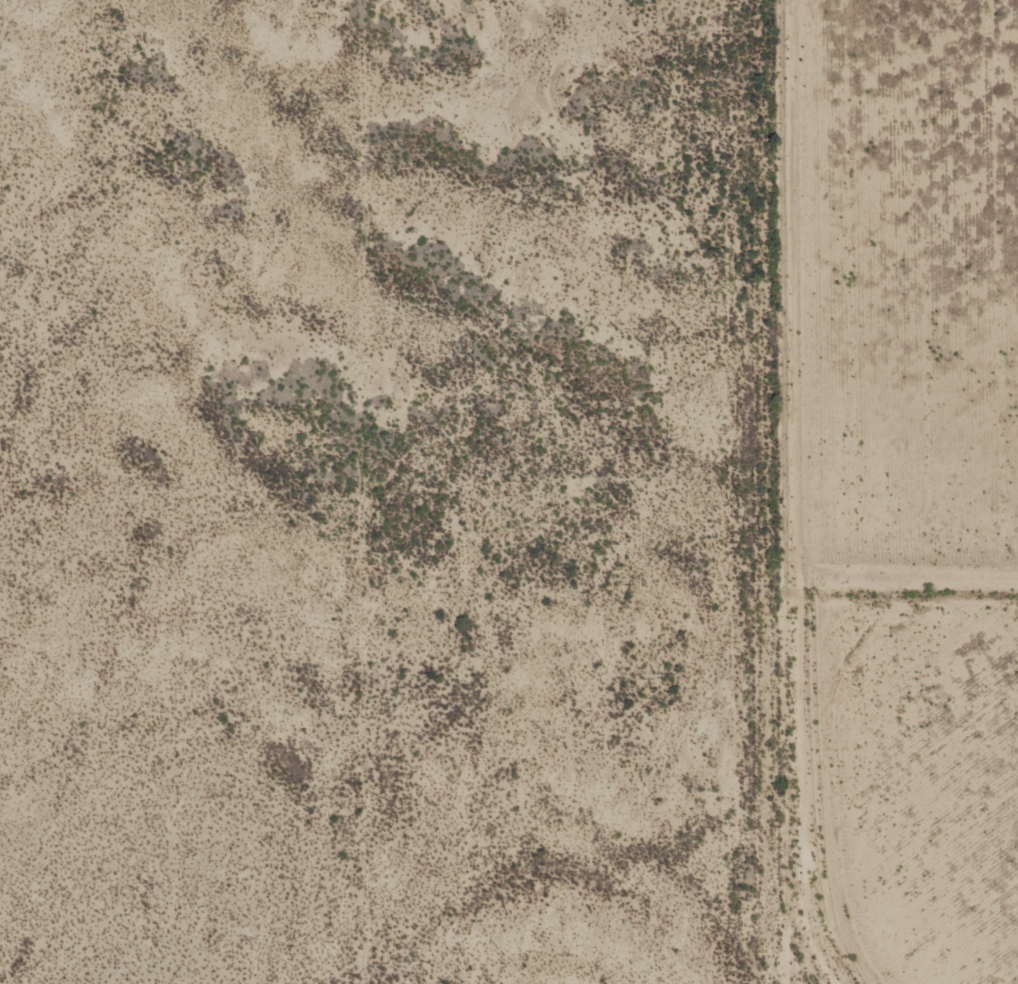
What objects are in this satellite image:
road: (809, 498)

